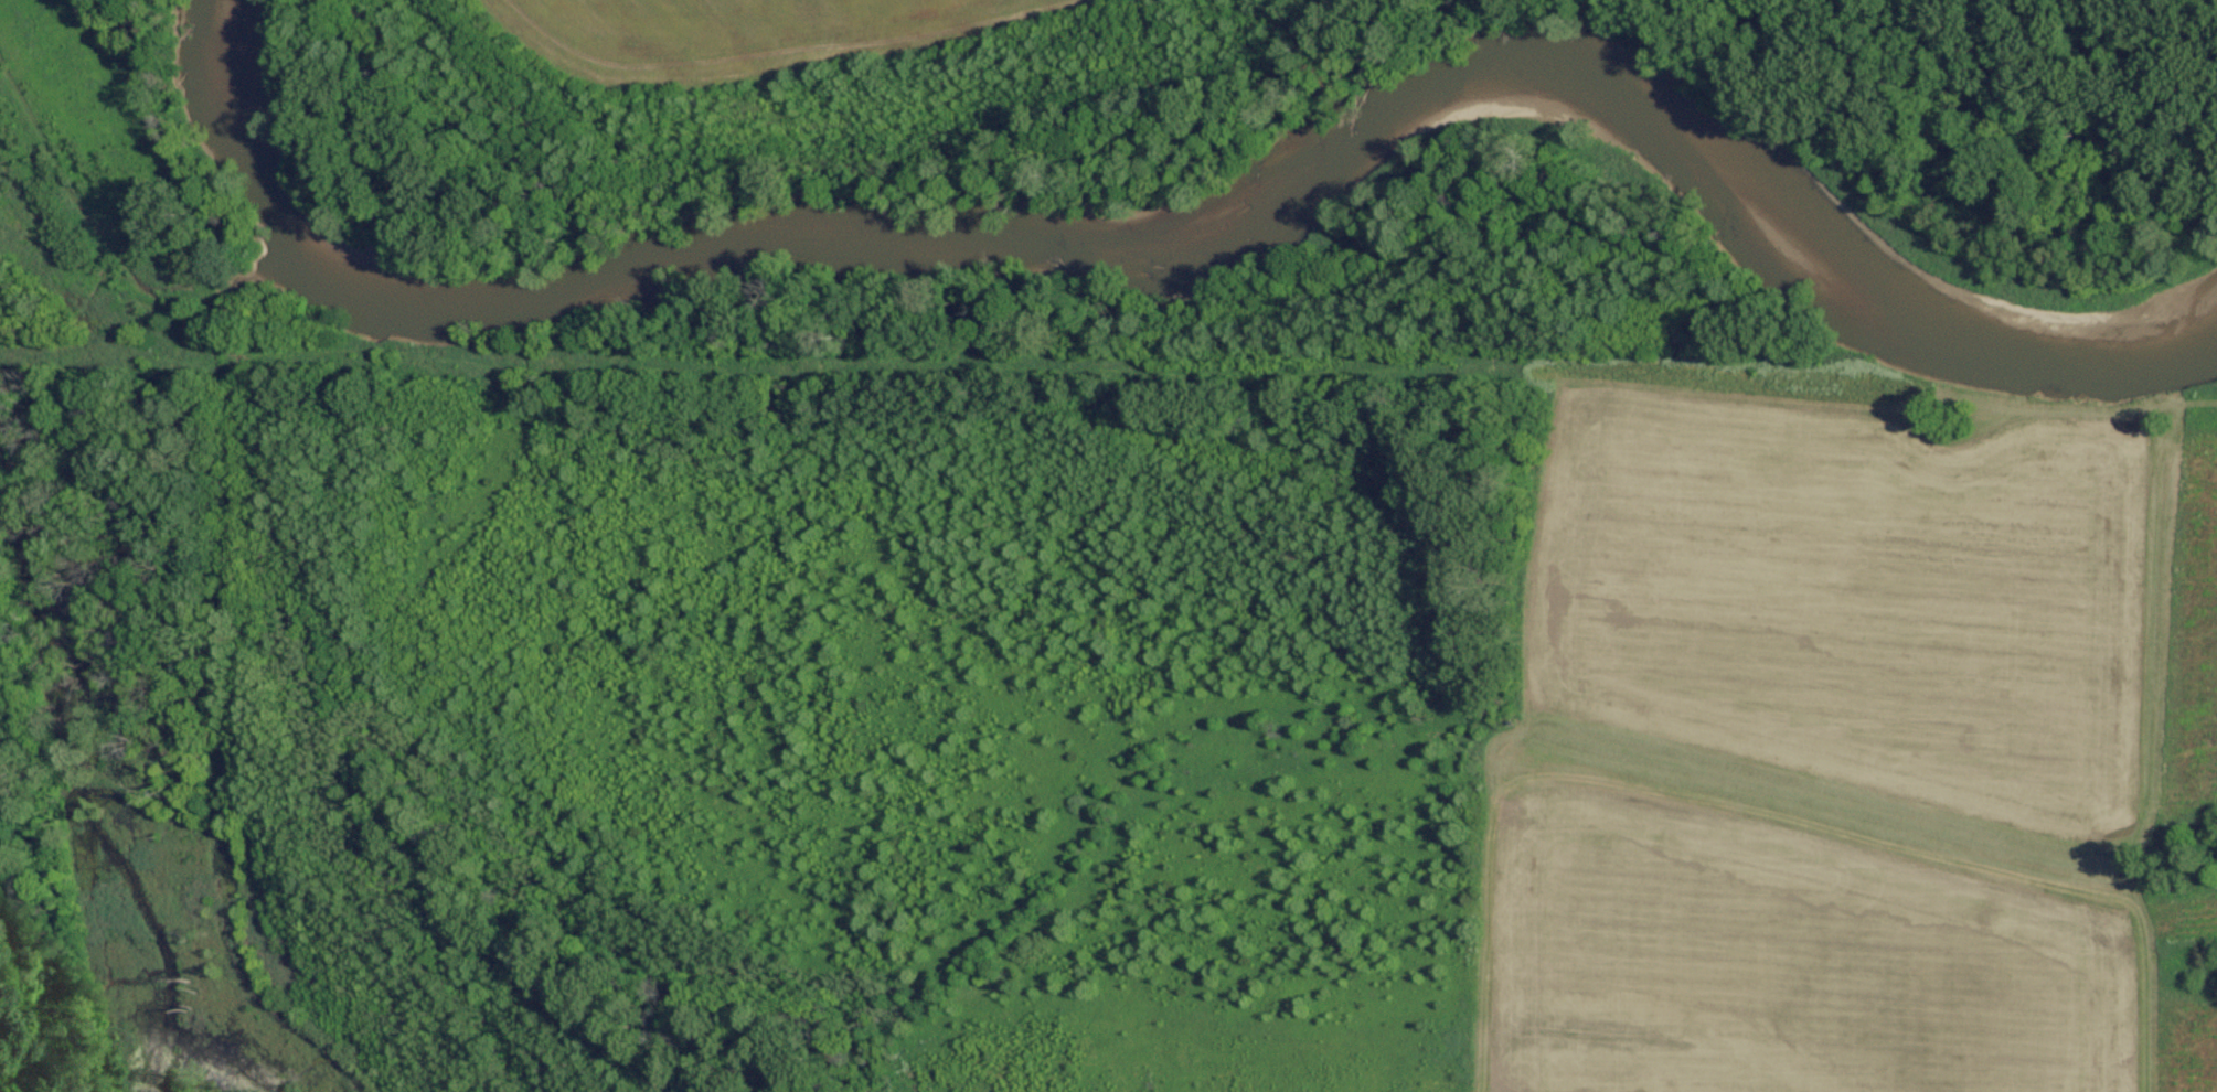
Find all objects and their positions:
river: (1190, 244)

